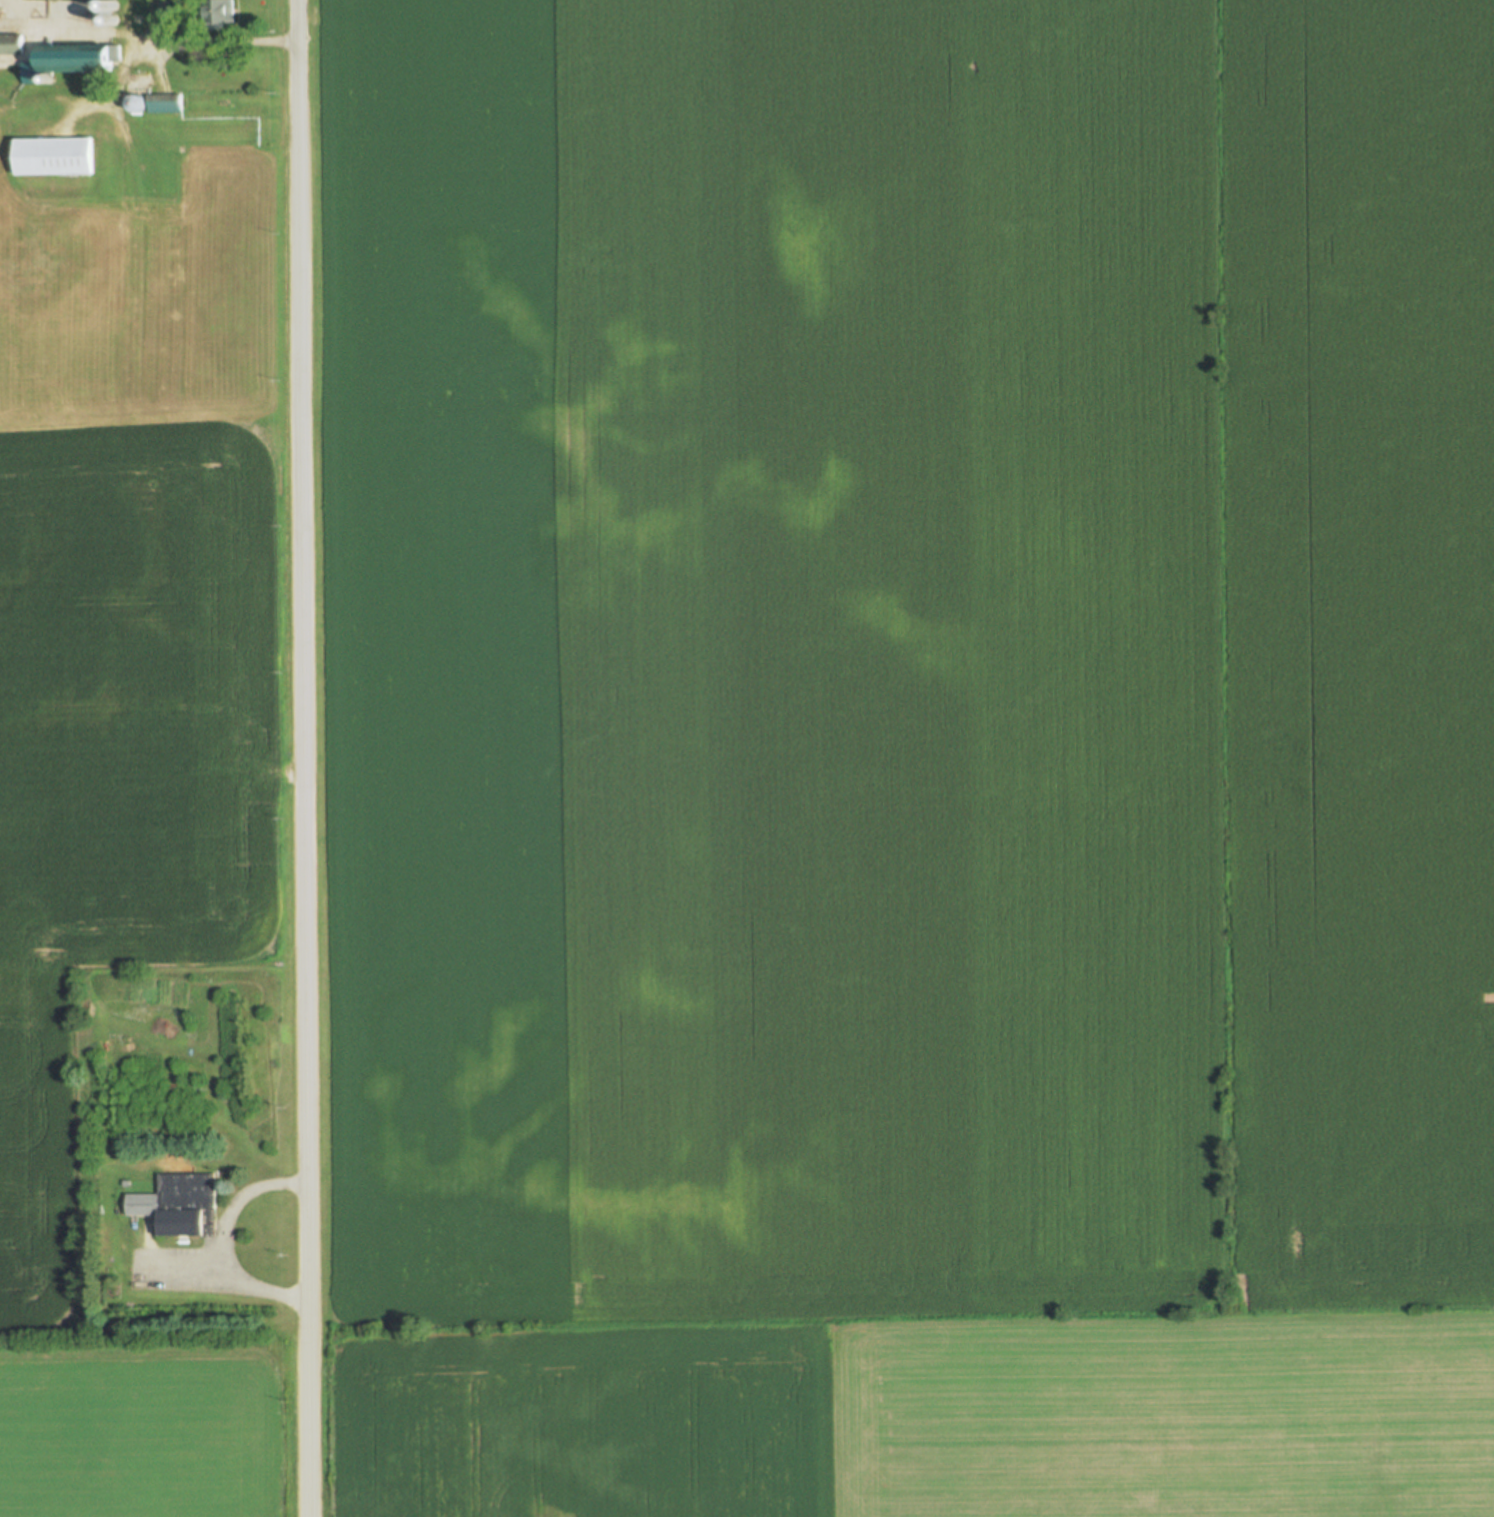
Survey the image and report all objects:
building: (115, 11)
building: (219, 13)
building: (167, 14)
road: (143, 23)
road: (207, 39)
building: (9, 43)
building: (66, 61)
building: (164, 103)
building: (55, 156)
road: (137, 172)
road: (302, 758)
building: (179, 1205)
road: (224, 1240)

